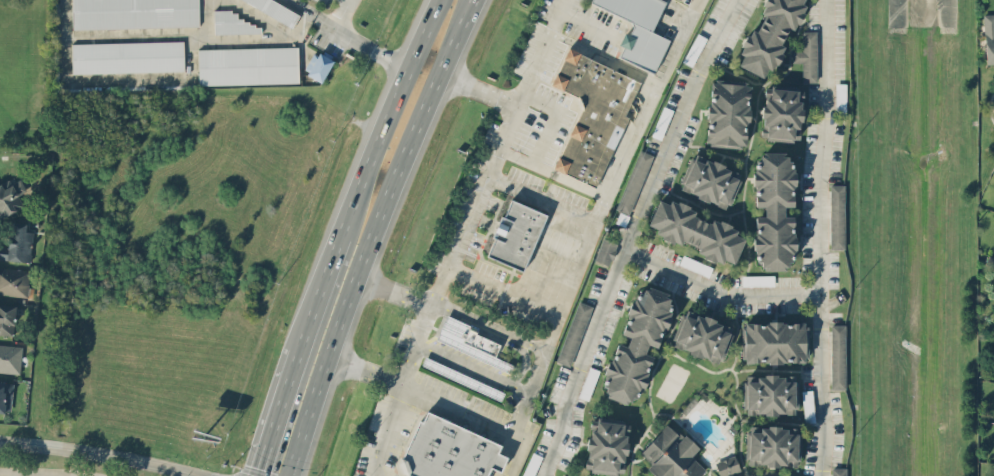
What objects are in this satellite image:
building: (276, 10)
road: (341, 12)
building: (134, 13)
building: (233, 23)
building: (639, 30)
road: (351, 34)
building: (769, 35)
building: (989, 37)
building: (127, 56)
road: (606, 56)
building: (807, 56)
building: (248, 65)
road: (523, 91)
building: (592, 113)
building: (781, 113)
building: (727, 114)
road: (387, 117)
road: (551, 119)
building: (661, 122)
road: (554, 173)
building: (709, 180)
building: (634, 181)
building: (10, 195)
road: (543, 200)
building: (774, 209)
building: (837, 216)
building: (696, 231)
road: (631, 233)
road: (371, 234)
building: (527, 235)
road: (594, 235)
road: (817, 237)
road: (460, 239)
building: (16, 241)
building: (605, 251)
building: (13, 280)
building: (758, 280)
road: (442, 282)
road: (717, 288)
road: (395, 289)
road: (317, 292)
building: (6, 318)
road: (426, 324)
road: (489, 328)
building: (573, 333)
building: (701, 336)
building: (469, 340)
building: (774, 341)
building: (636, 344)
building: (838, 356)
building: (10, 357)
road: (410, 367)
road: (473, 369)
building: (462, 377)
building: (588, 382)
building: (770, 394)
building: (5, 396)
road: (422, 397)
road: (277, 412)
road: (387, 432)
building: (605, 444)
building: (448, 449)
building: (671, 454)
road: (99, 456)
building: (727, 465)
traffic signals: (260, 467)
building: (838, 471)
road: (13, 474)

